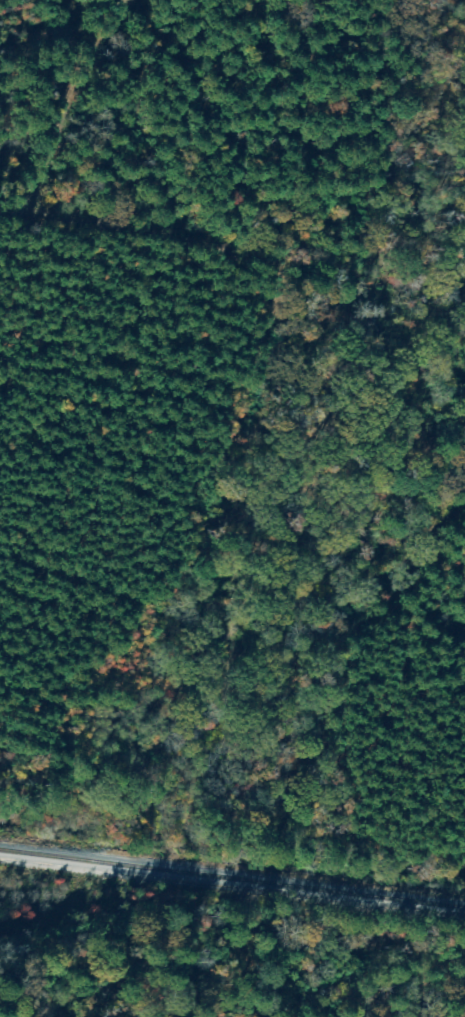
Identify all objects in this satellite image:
railway: (232, 877)

